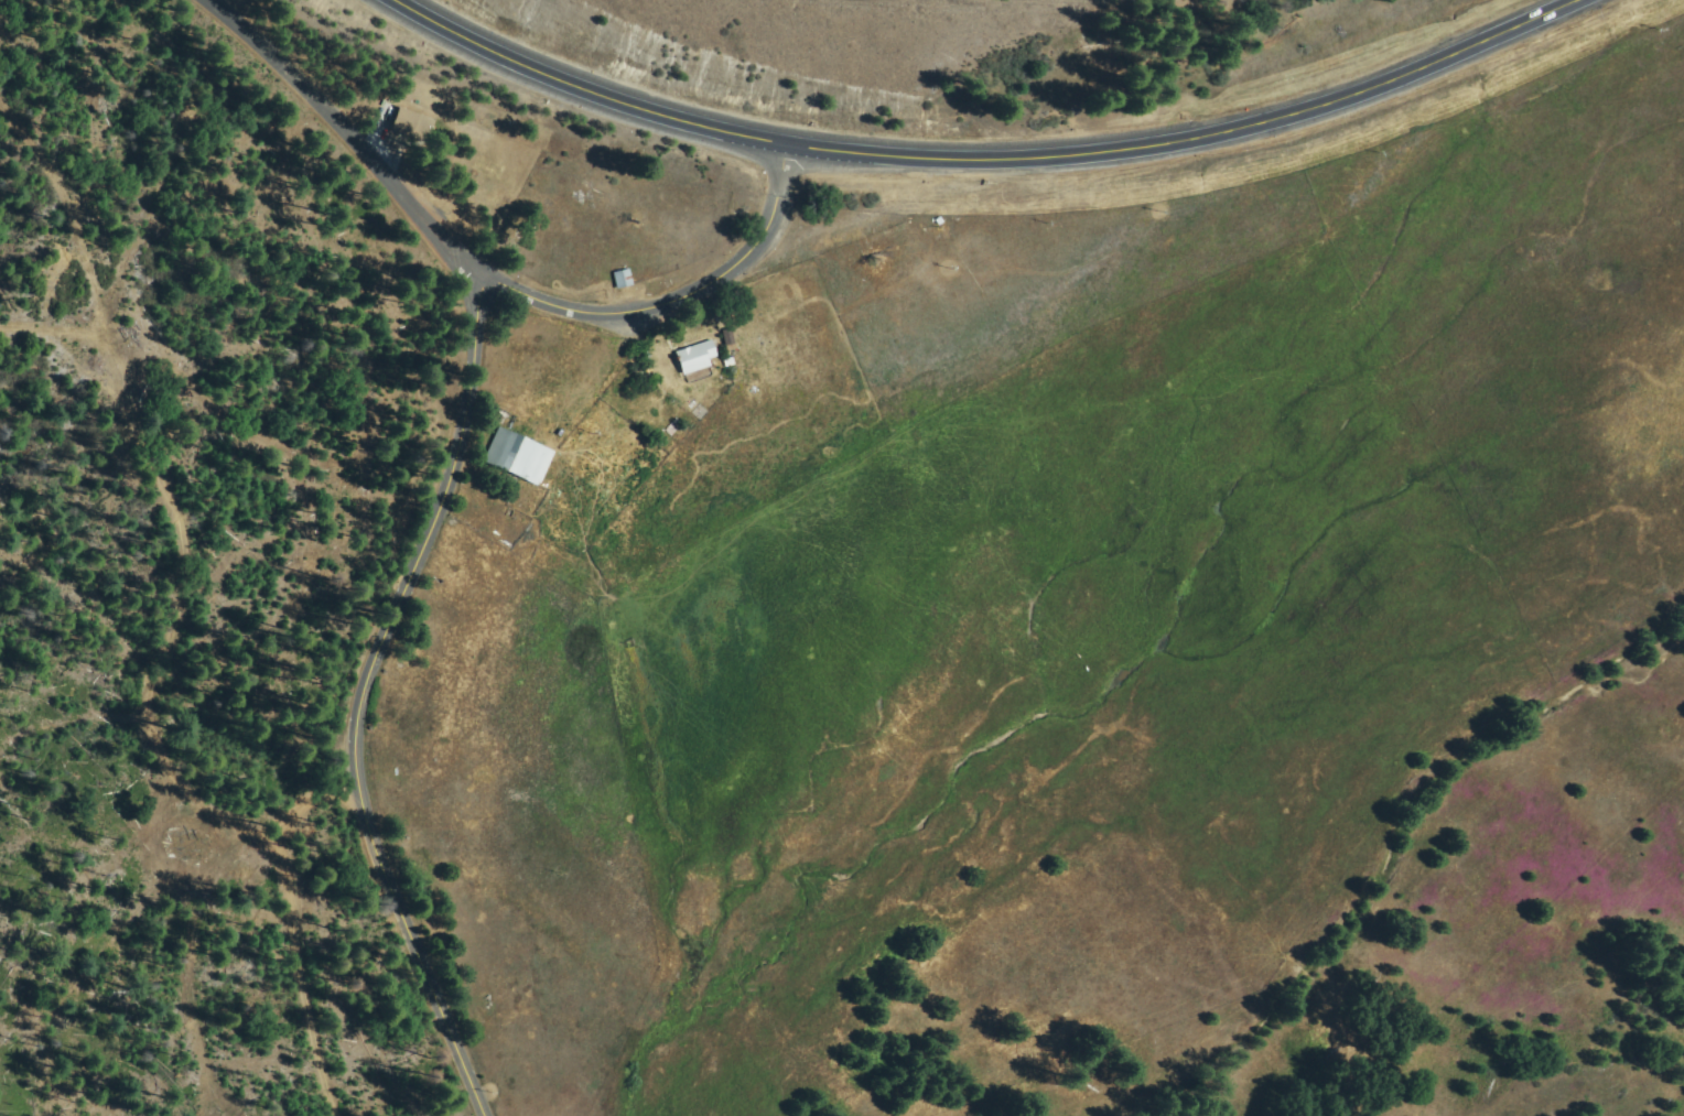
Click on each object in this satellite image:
road: (590, 88)
building: (412, 123)
road: (1192, 136)
road: (349, 137)
building: (625, 278)
road: (679, 300)
building: (730, 339)
building: (697, 356)
building: (519, 456)
road: (363, 701)
road: (281, 873)

